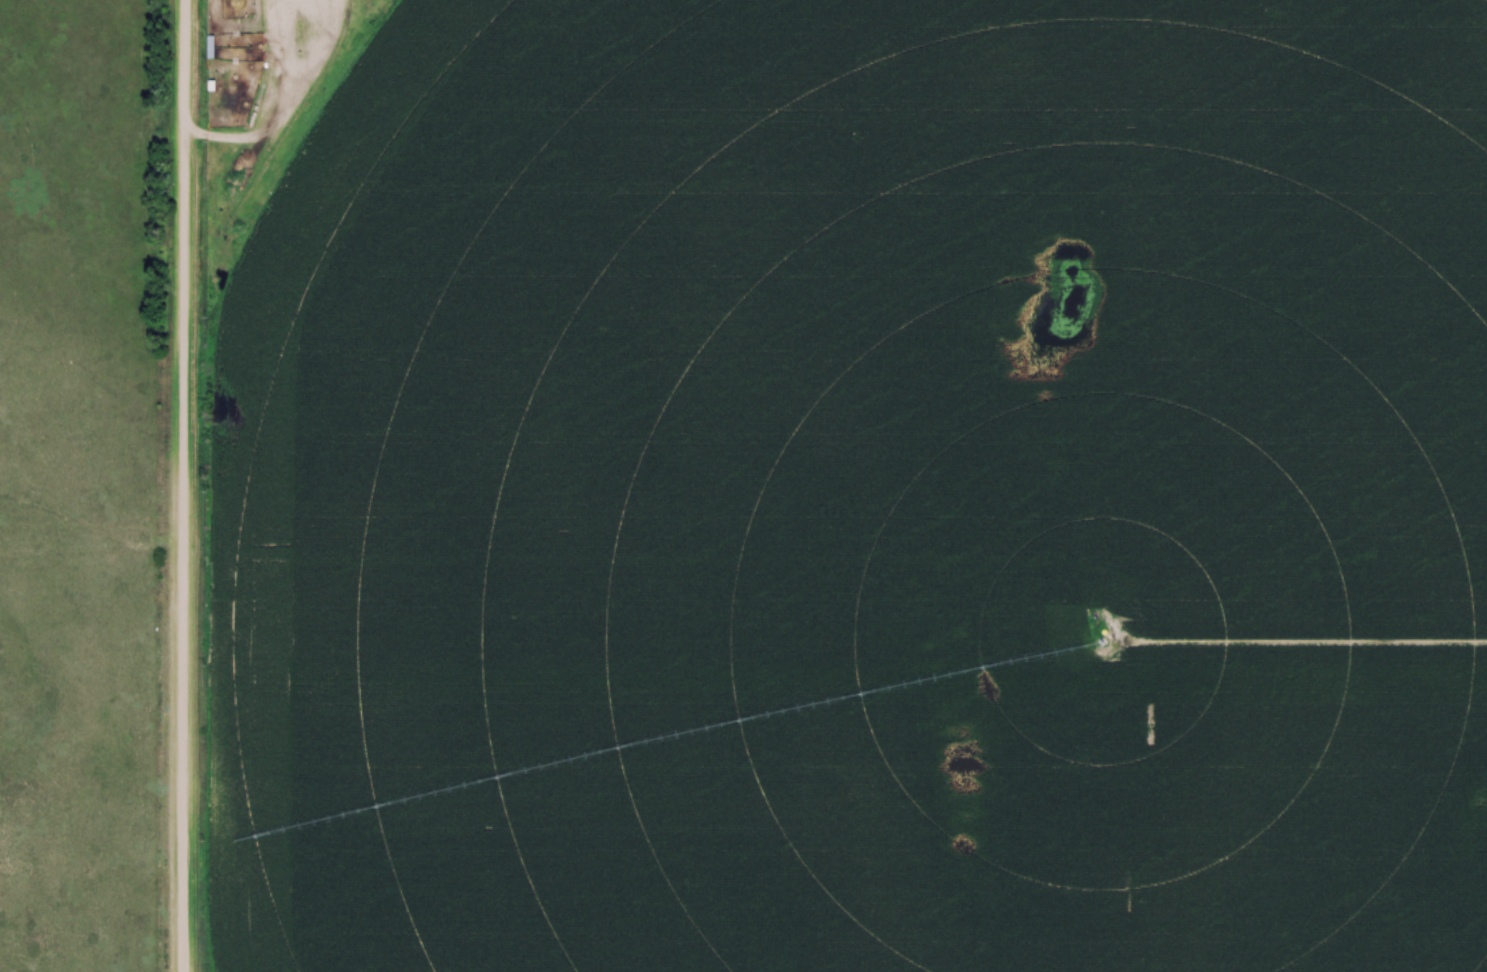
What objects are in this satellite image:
road: (309, 6)
road: (184, 486)

